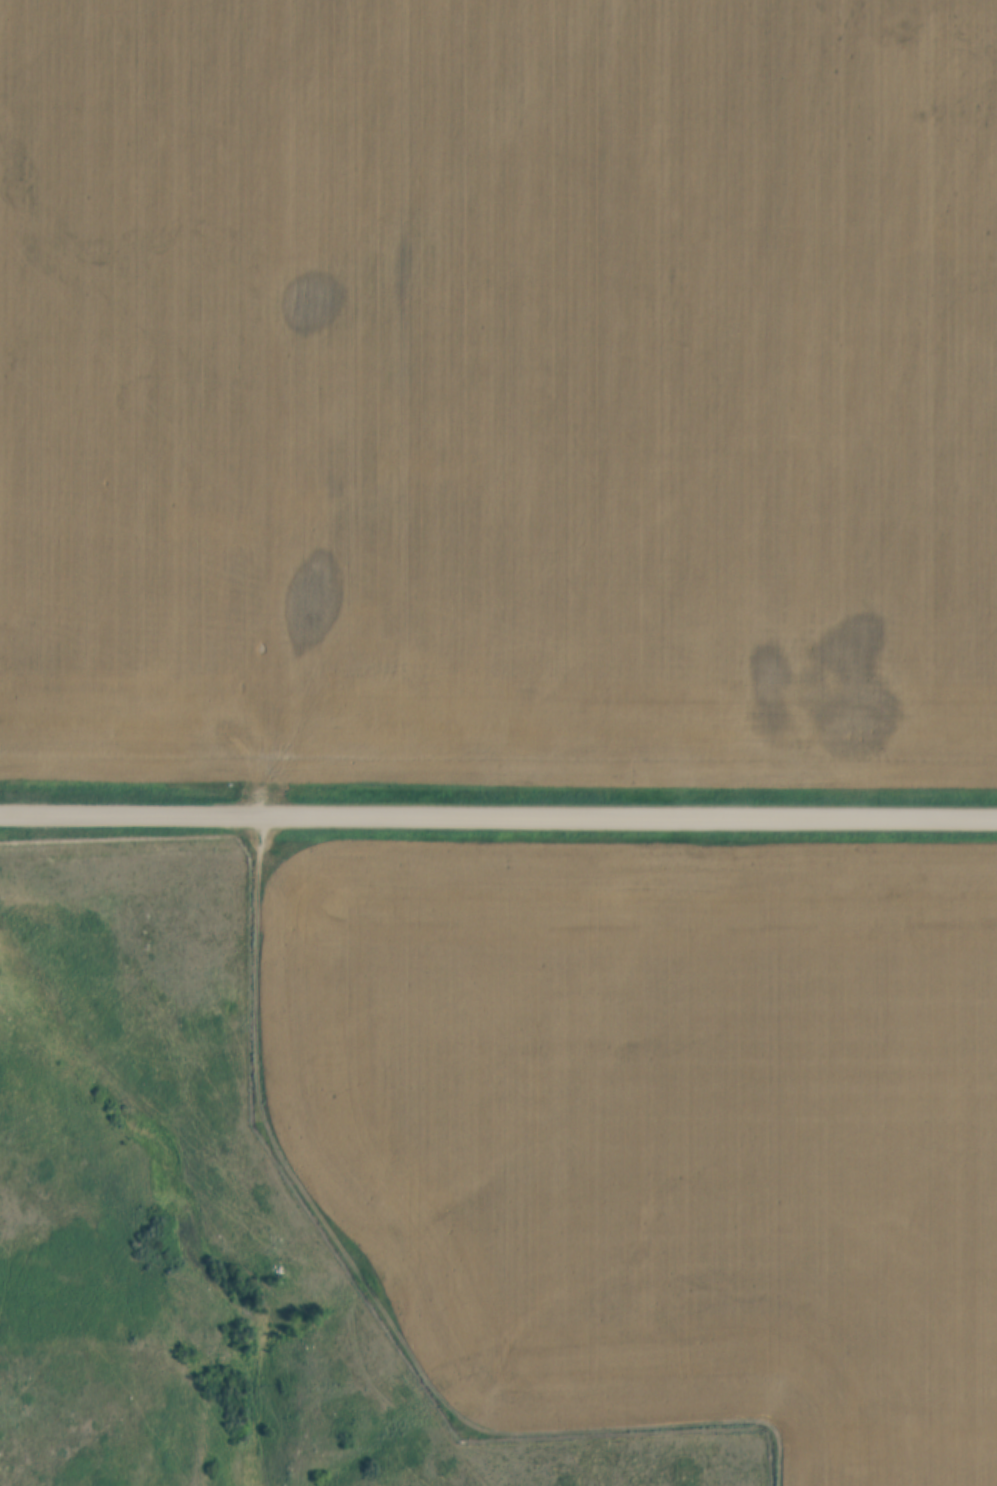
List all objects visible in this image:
road: (498, 812)

